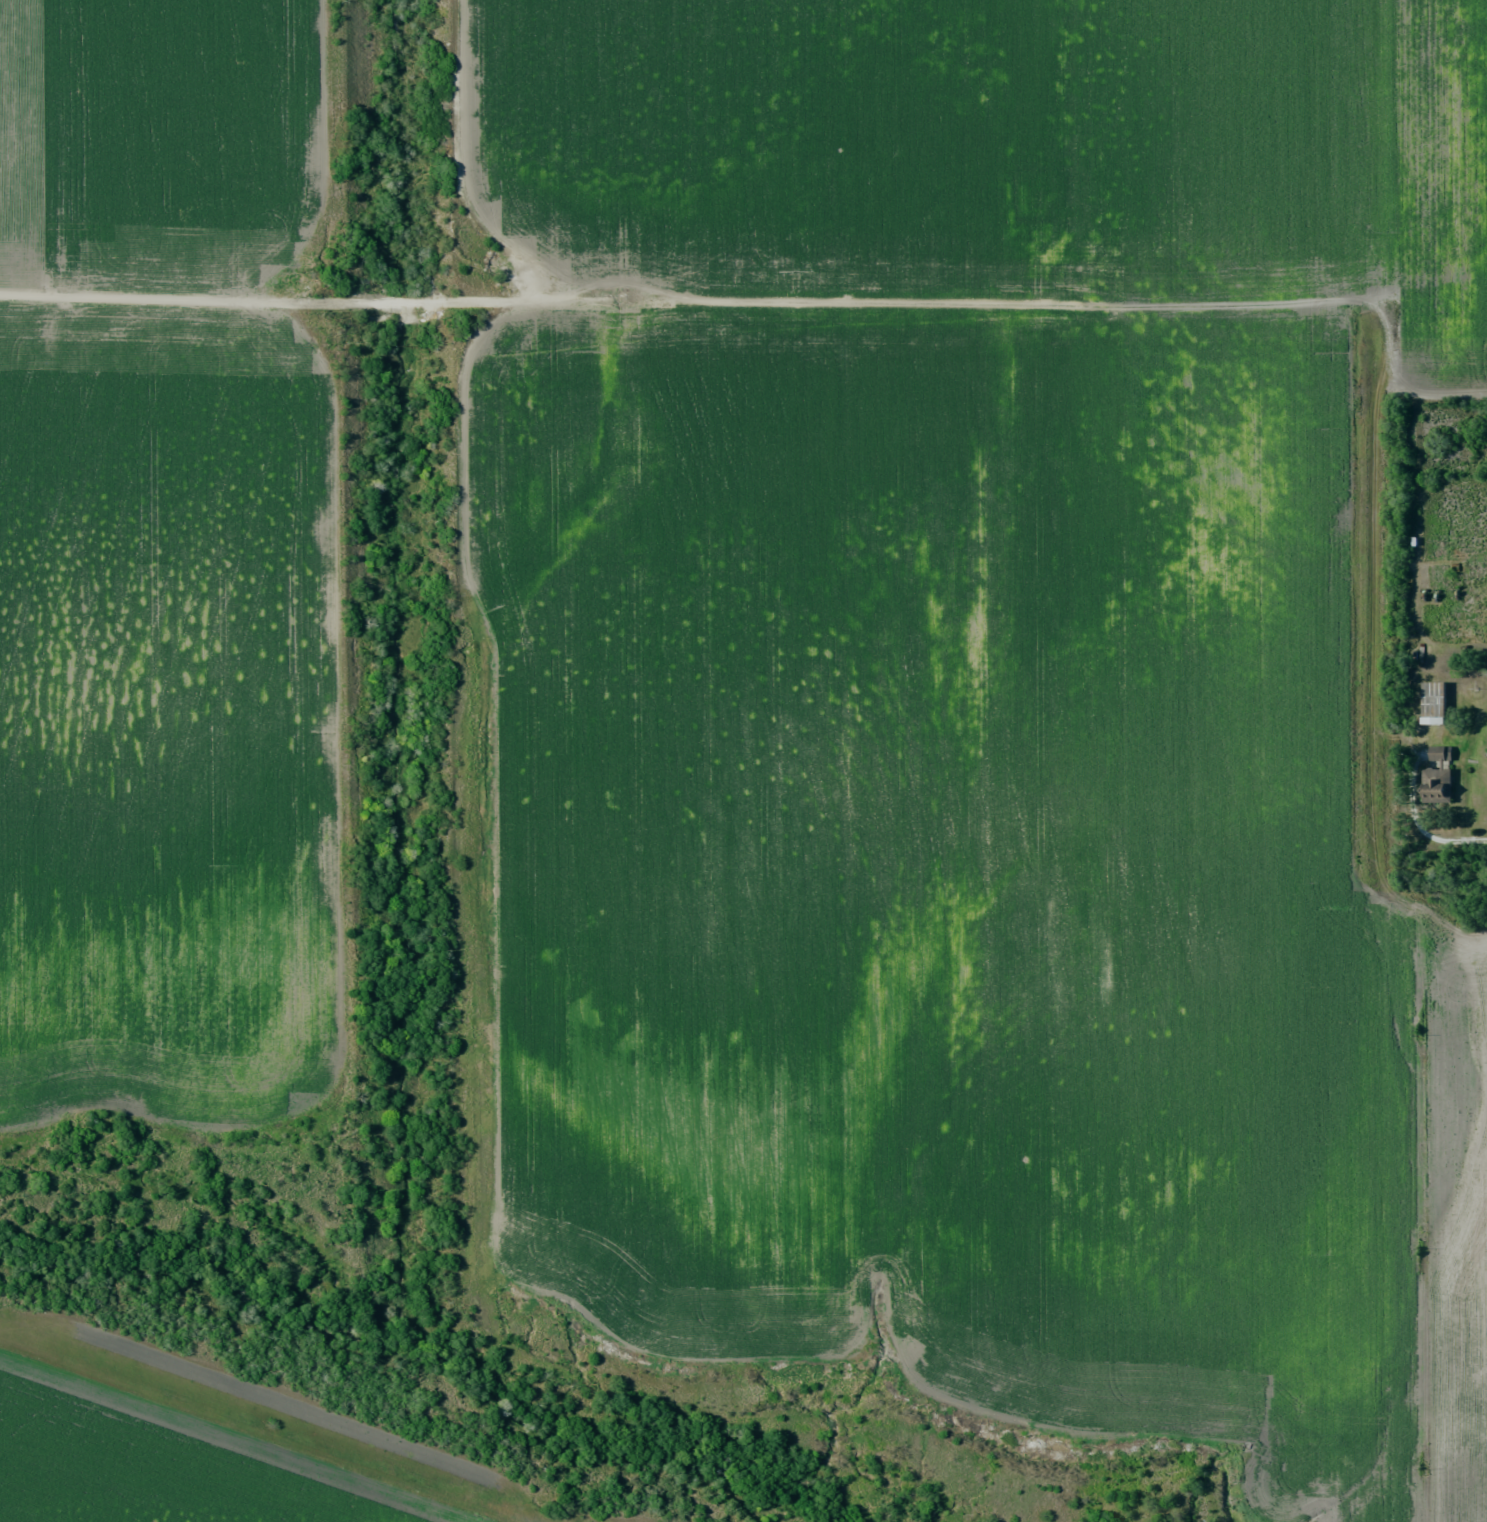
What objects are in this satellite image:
road: (459, 164)
road: (772, 302)
building: (1438, 704)
building: (1439, 777)
road: (1474, 839)

